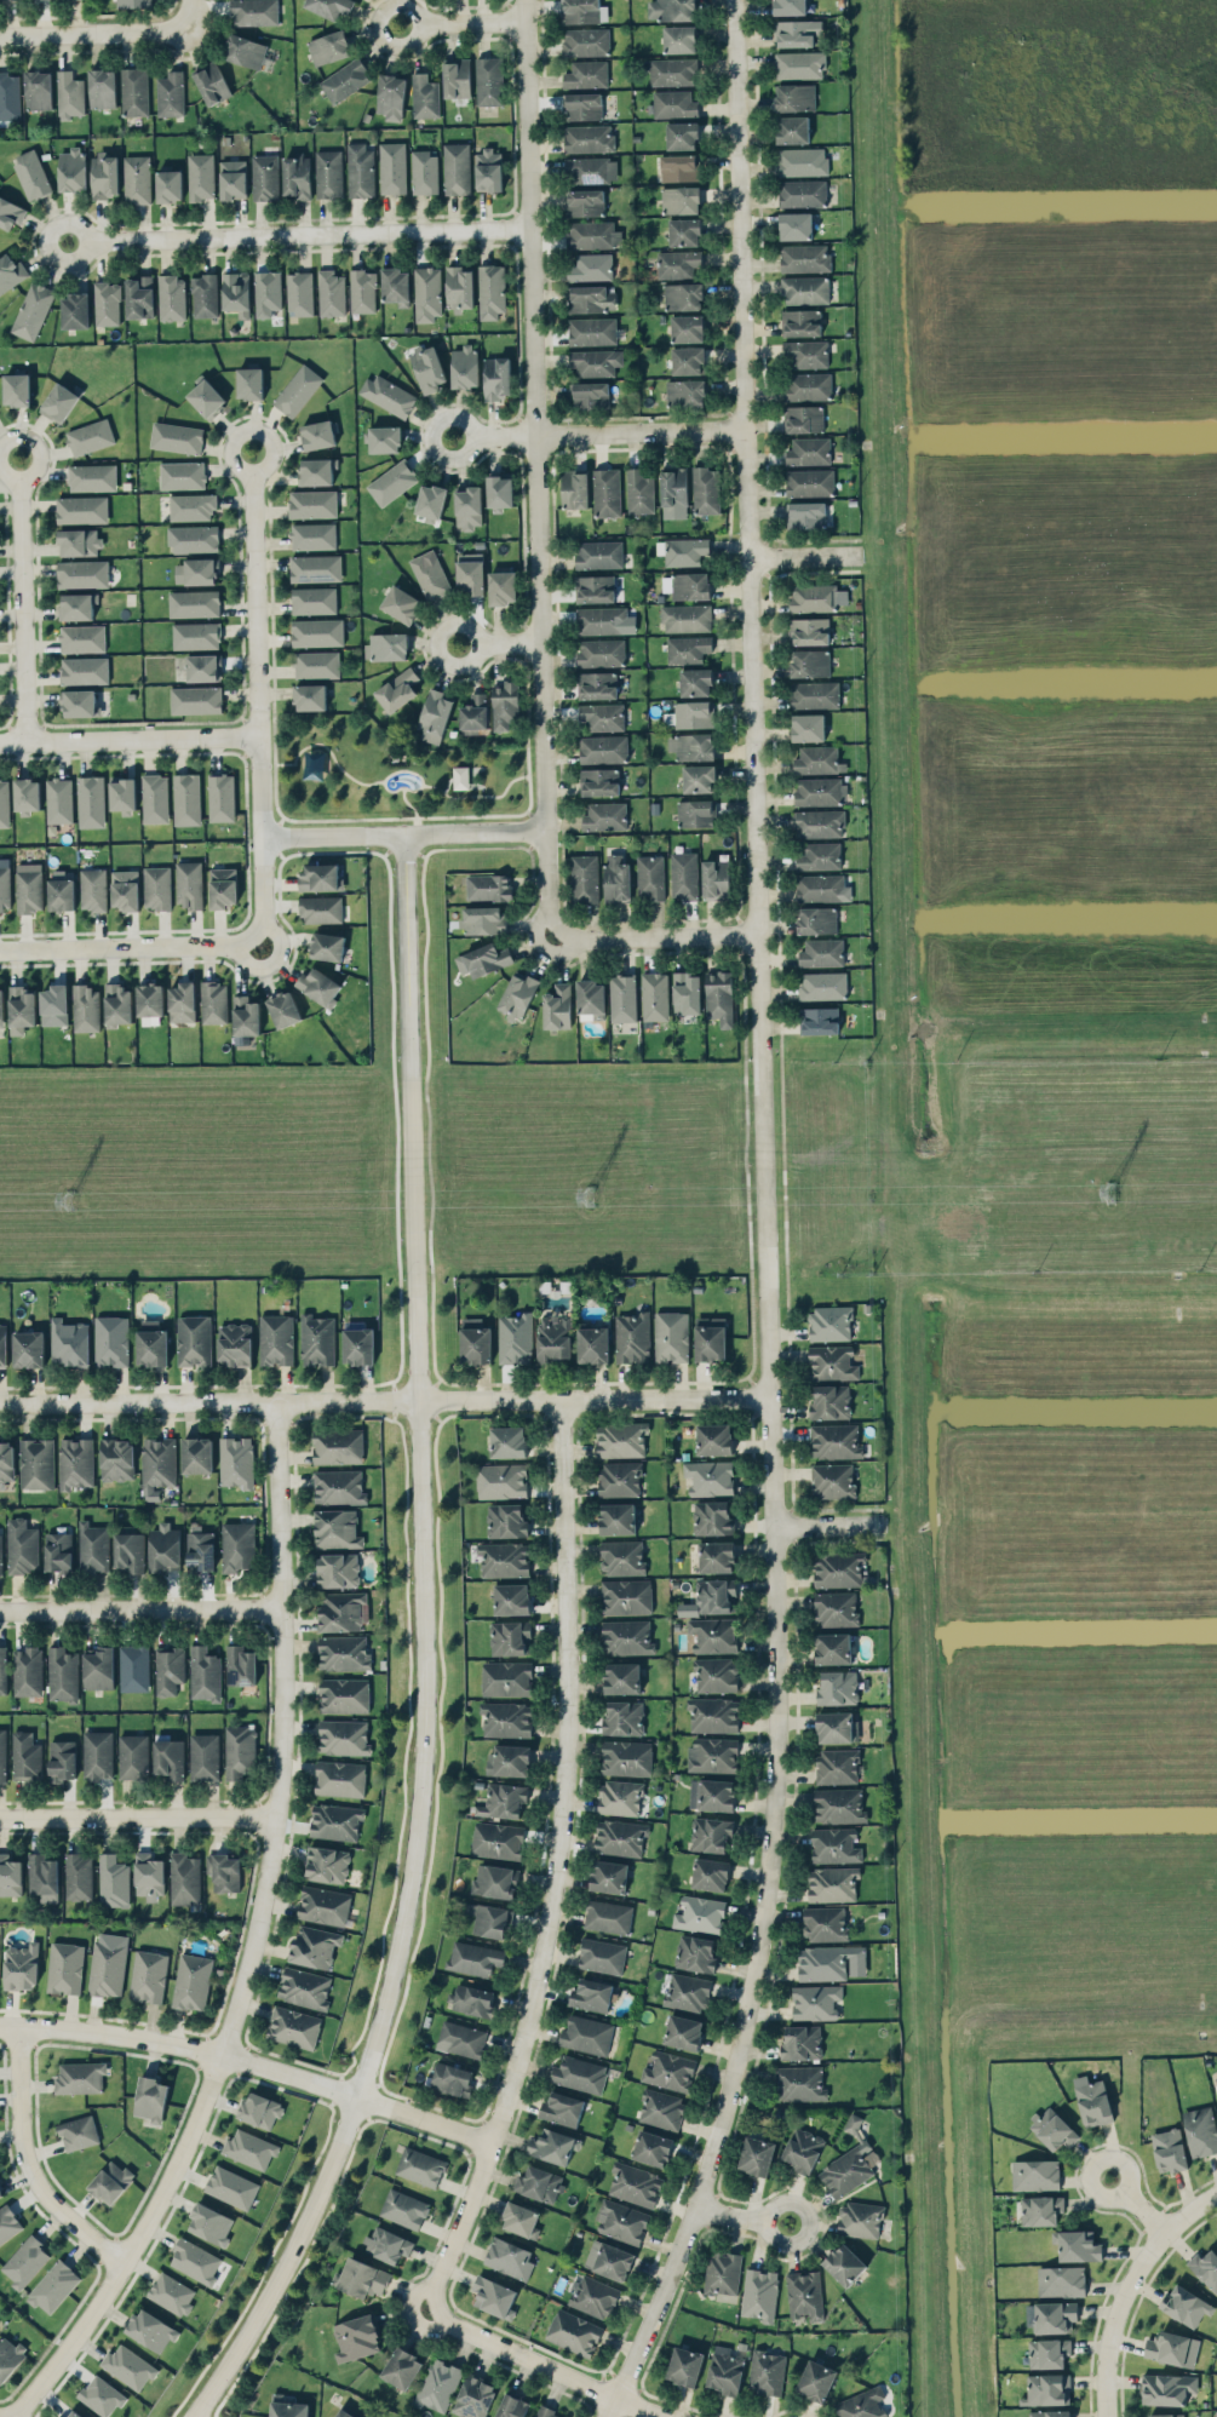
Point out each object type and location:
building: (134, 2)
building: (790, 6)
building: (331, 7)
building: (671, 10)
building: (254, 11)
building: (582, 11)
road: (190, 15)
road: (463, 21)
road: (96, 30)
building: (796, 31)
building: (679, 39)
building: (585, 41)
building: (329, 47)
building: (245, 50)
building: (799, 64)
building: (672, 70)
building: (586, 74)
building: (457, 77)
building: (345, 80)
building: (489, 80)
building: (212, 82)
building: (102, 87)
building: (38, 90)
building: (133, 91)
building: (170, 93)
building: (8, 94)
building: (69, 94)
building: (391, 96)
building: (425, 96)
building: (796, 97)
building: (673, 104)
building: (582, 105)
building: (793, 130)
building: (682, 134)
building: (589, 137)
building: (802, 161)
building: (392, 167)
building: (678, 167)
building: (71, 168)
building: (360, 168)
building: (457, 168)
building: (488, 170)
building: (592, 170)
building: (31, 173)
building: (328, 173)
building: (104, 174)
building: (200, 176)
building: (297, 176)
building: (264, 177)
building: (137, 178)
building: (233, 178)
building: (168, 185)
building: (802, 193)
building: (681, 199)
building: (585, 202)
building: (10, 213)
building: (794, 225)
building: (684, 231)
building: (592, 234)
road: (298, 235)
building: (804, 257)
building: (677, 263)
building: (591, 266)
building: (11, 271)
building: (396, 286)
building: (459, 287)
building: (805, 289)
building: (362, 291)
building: (490, 291)
building: (236, 292)
building: (266, 292)
building: (331, 292)
building: (299, 293)
building: (427, 293)
building: (205, 295)
building: (683, 295)
building: (139, 297)
building: (171, 297)
building: (591, 299)
building: (107, 303)
building: (33, 310)
building: (75, 310)
building: (800, 322)
building: (687, 327)
building: (591, 331)
building: (806, 352)
building: (688, 360)
building: (596, 361)
building: (464, 366)
building: (427, 368)
building: (496, 377)
building: (249, 383)
building: (806, 385)
building: (16, 389)
building: (297, 390)
building: (685, 392)
building: (388, 394)
building: (590, 395)
building: (207, 398)
building: (59, 401)
building: (803, 418)
road: (644, 430)
road: (498, 431)
building: (318, 434)
building: (90, 436)
building: (176, 436)
building: (384, 438)
building: (809, 450)
road: (539, 465)
building: (316, 470)
building: (182, 475)
building: (92, 477)
building: (392, 482)
building: (809, 482)
building: (673, 486)
building: (574, 489)
building: (705, 489)
building: (499, 490)
building: (639, 490)
building: (607, 492)
building: (430, 501)
building: (312, 503)
building: (191, 506)
building: (469, 507)
building: (81, 509)
building: (805, 515)
building: (312, 535)
building: (193, 538)
building: (79, 541)
road: (810, 546)
building: (683, 550)
building: (598, 553)
building: (315, 568)
building: (196, 572)
building: (82, 573)
building: (470, 573)
building: (430, 574)
building: (690, 585)
building: (501, 586)
building: (593, 587)
building: (816, 597)
road: (22, 598)
building: (314, 599)
building: (194, 603)
building: (401, 603)
building: (76, 605)
building: (685, 618)
building: (601, 620)
building: (809, 630)
building: (317, 632)
building: (196, 635)
building: (82, 638)
road: (499, 641)
building: (386, 645)
building: (688, 648)
building: (601, 651)
building: (810, 662)
building: (316, 664)
building: (203, 667)
building: (84, 670)
building: (695, 682)
building: (597, 684)
building: (397, 689)
road: (258, 694)
building: (815, 694)
building: (310, 696)
building: (196, 699)
building: (79, 702)
building: (505, 704)
building: (475, 713)
building: (690, 713)
building: (435, 714)
building: (602, 716)
building: (808, 727)
road: (128, 736)
road: (325, 742)
building: (691, 746)
building: (603, 748)
building: (819, 759)
park: (386, 768)
building: (460, 776)
building: (699, 777)
road: (421, 779)
building: (598, 781)
building: (819, 791)
building: (27, 793)
road: (486, 793)
building: (122, 794)
building: (222, 797)
building: (155, 798)
building: (186, 798)
building: (58, 799)
building: (91, 800)
building: (4, 803)
road: (414, 808)
building: (695, 813)
building: (604, 816)
building: (819, 822)
road: (403, 834)
building: (819, 856)
building: (683, 874)
building: (650, 875)
building: (320, 877)
building: (616, 877)
building: (584, 878)
building: (716, 878)
building: (189, 883)
building: (5, 884)
building: (28, 886)
building: (156, 886)
building: (223, 886)
building: (488, 886)
building: (822, 888)
building: (93, 889)
building: (125, 889)
building: (61, 894)
building: (320, 908)
building: (483, 919)
building: (816, 919)
road: (655, 928)
road: (131, 945)
building: (327, 946)
building: (821, 952)
building: (483, 959)
building: (823, 984)
building: (318, 986)
building: (687, 992)
building: (517, 994)
building: (655, 995)
building: (591, 997)
building: (622, 997)
building: (719, 997)
building: (182, 1001)
building: (213, 1001)
building: (149, 1003)
building: (54, 1004)
building: (117, 1004)
building: (557, 1006)
building: (1, 1007)
building: (86, 1007)
building: (21, 1009)
building: (283, 1009)
building: (246, 1015)
building: (819, 1020)
power tower: (1112, 1193)
power tower: (70, 1199)
power tower: (592, 1199)
road: (771, 1221)
building: (831, 1322)
building: (671, 1336)
building: (553, 1337)
building: (632, 1337)
building: (276, 1338)
building: (515, 1338)
building: (710, 1338)
building: (194, 1339)
building: (316, 1339)
building: (110, 1340)
building: (475, 1340)
building: (69, 1342)
building: (151, 1343)
building: (235, 1343)
building: (2, 1344)
building: (592, 1344)
building: (358, 1345)
building: (28, 1348)
building: (832, 1362)
road: (390, 1402)
building: (831, 1402)
building: (621, 1439)
building: (714, 1439)
building: (834, 1440)
building: (507, 1441)
building: (338, 1445)
building: (196, 1454)
building: (116, 1458)
building: (6, 1460)
building: (236, 1460)
building: (75, 1462)
building: (36, 1463)
building: (156, 1465)
building: (710, 1476)
building: (619, 1479)
building: (501, 1480)
building: (832, 1480)
building: (338, 1486)
building: (616, 1517)
building: (712, 1517)
building: (506, 1520)
road: (833, 1526)
building: (337, 1528)
building: (237, 1545)
building: (22, 1546)
building: (92, 1546)
building: (163, 1548)
building: (57, 1550)
building: (200, 1550)
building: (0, 1551)
building: (128, 1551)
building: (621, 1556)
building: (716, 1556)
building: (504, 1558)
building: (337, 1569)
building: (838, 1569)
building: (714, 1595)
building: (626, 1596)
building: (511, 1597)
building: (836, 1608)
road: (142, 1611)
building: (341, 1611)
building: (713, 1634)
building: (510, 1637)
building: (626, 1637)
building: (833, 1647)
road: (429, 1650)
building: (343, 1652)
building: (240, 1665)
building: (98, 1666)
building: (133, 1667)
building: (2, 1669)
building: (168, 1669)
building: (27, 1671)
building: (203, 1672)
building: (62, 1673)
building: (716, 1675)
building: (622, 1677)
building: (506, 1678)
building: (838, 1687)
building: (343, 1694)
building: (713, 1715)
building: (624, 1717)
building: (506, 1718)
building: (343, 1736)
building: (240, 1751)
building: (713, 1753)
building: (2, 1755)
building: (97, 1755)
building: (25, 1756)
building: (132, 1756)
building: (203, 1756)
building: (168, 1757)
building: (626, 1757)
building: (62, 1759)
building: (509, 1759)
building: (837, 1766)
building: (339, 1778)
building: (712, 1793)
building: (619, 1797)
building: (838, 1804)
road: (139, 1816)
building: (335, 1820)
building: (711, 1833)
building: (620, 1837)
building: (496, 1839)
building: (836, 1844)
building: (327, 1864)
road: (561, 1866)
building: (223, 1871)
building: (710, 1873)
building: (10, 1875)
building: (78, 1875)
building: (42, 1876)
building: (148, 1876)
building: (608, 1876)
building: (184, 1878)
building: (495, 1879)
building: (113, 1881)
building: (832, 1883)
building: (323, 1905)
building: (700, 1913)
building: (608, 1916)
building: (488, 1918)
building: (825, 1923)
road: (257, 1941)
building: (314, 1946)
building: (695, 1953)
building: (602, 1954)
building: (475, 1957)
building: (831, 1962)
building: (108, 1963)
building: (21, 1967)
building: (64, 1967)
building: (148, 1975)
building: (191, 1981)
building: (304, 1987)
building: (687, 1991)
building: (591, 1994)
building: (470, 1998)
building: (815, 2000)
building: (293, 2026)
building: (683, 2031)
building: (586, 2034)
building: (461, 2038)
building: (802, 2042)
road: (254, 2063)
building: (668, 2069)
building: (579, 2073)
building: (80, 2077)
building: (452, 2078)
building: (799, 2082)
building: (1216, 2096)
building: (151, 2099)
building: (1092, 2100)
building: (561, 2108)
building: (660, 2108)
building: (260, 2109)
building: (1052, 2128)
building: (1200, 2130)
building: (78, 2131)
building: (552, 2145)
building: (653, 2147)
building: (249, 2148)
building: (802, 2149)
building: (1169, 2149)
building: (757, 2154)
road: (33, 2163)
building: (848, 2164)
building: (420, 2165)
building: (1035, 2174)
building: (110, 2181)
building: (539, 2183)
building: (635, 2183)
building: (231, 2186)
building: (0, 2195)
road: (1137, 2204)
building: (403, 2208)
building: (1040, 2209)
road: (745, 2214)
building: (521, 2218)
building: (860, 2218)
building: (622, 2221)
building: (7, 2222)
building: (211, 2223)
building: (388, 2244)
building: (1077, 2245)
building: (509, 2257)
building: (195, 2260)
building: (609, 2260)
building: (24, 2261)
building: (844, 2263)
building: (1205, 2268)
building: (722, 2272)
building: (362, 2278)
building: (1061, 2280)
building: (53, 2286)
road: (1126, 2287)
building: (171, 2292)
building: (759, 2293)
building: (804, 2293)
building: (494, 2296)
building: (595, 2296)
building: (1186, 2304)
building: (1055, 2316)
building: (150, 2330)
building: (573, 2331)
building: (356, 2337)
building: (1172, 2348)
building: (1047, 2352)
building: (8, 2356)
road: (557, 2365)
building: (684, 2365)
building: (128, 2366)
building: (401, 2367)
building: (725, 2370)
building: (767, 2372)
building: (816, 2379)
building: (437, 2384)
building: (1166, 2388)
building: (1046, 2389)
building: (101, 2395)
building: (473, 2396)
building: (861, 2404)
building: (287, 2406)
building: (511, 2406)
building: (346, 2412)
building: (546, 2412)
building: (71, 2413)
building: (1049, 2413)
building: (1166, 2415)

